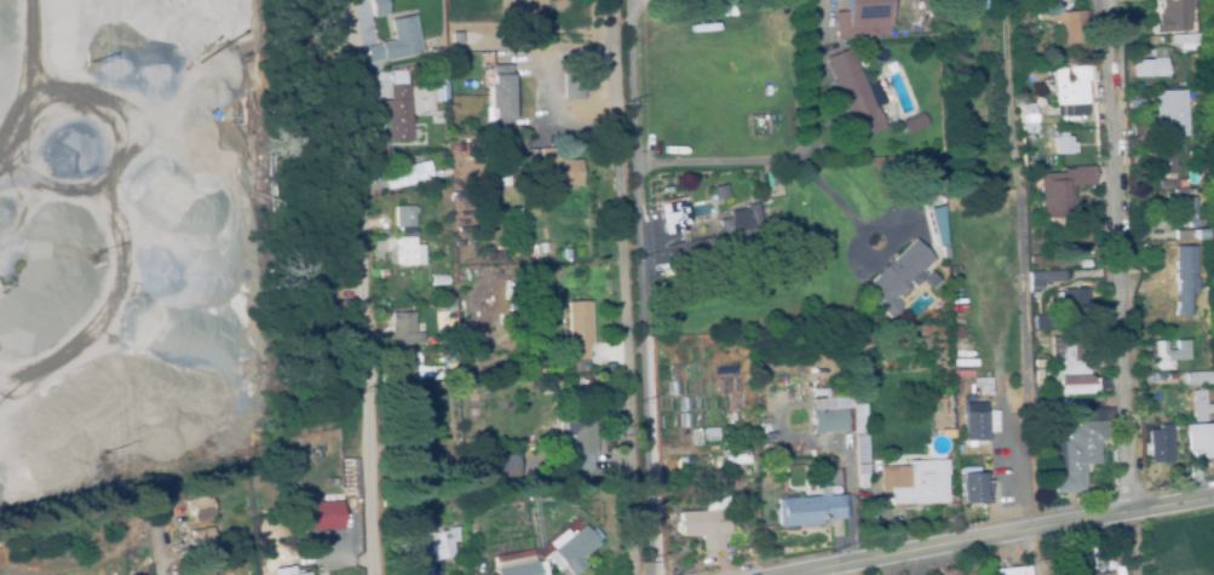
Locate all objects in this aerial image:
building: (1055, 0)
building: (120, 2)
building: (986, 5)
building: (379, 7)
building: (493, 8)
building: (1034, 8)
building: (1020, 10)
building: (1174, 16)
building: (861, 19)
building: (1071, 27)
building: (951, 29)
building: (1185, 40)
building: (396, 41)
building: (516, 45)
building: (863, 46)
building: (436, 52)
building: (1210, 52)
building: (1151, 65)
building: (968, 70)
building: (1037, 73)
building: (442, 82)
building: (1072, 86)
building: (1193, 90)
building: (573, 92)
building: (852, 96)
building: (500, 97)
building: (401, 105)
building: (454, 107)
building: (1030, 114)
building: (1169, 114)
building: (916, 123)
building: (1139, 127)
building: (1065, 143)
building: (1196, 144)
building: (1053, 156)
building: (1195, 157)
road: (798, 159)
building: (1053, 162)
building: (1162, 163)
building: (558, 169)
building: (408, 173)
building: (506, 178)
building: (1181, 184)
building: (922, 185)
building: (1168, 185)
building: (720, 189)
building: (1063, 189)
building: (1180, 191)
building: (678, 214)
building: (404, 215)
building: (1186, 219)
building: (940, 222)
building: (721, 241)
building: (407, 251)
building: (945, 251)
road: (1122, 255)
road: (1023, 265)
building: (511, 269)
building: (1183, 275)
building: (898, 276)
building: (438, 278)
building: (1040, 282)
road: (367, 287)
road: (634, 287)
building: (439, 291)
building: (1175, 291)
building: (1072, 301)
building: (445, 305)
building: (1040, 323)
building: (577, 329)
building: (404, 330)
building: (1069, 350)
building: (449, 353)
building: (1170, 355)
building: (536, 363)
building: (405, 364)
building: (965, 369)
building: (1037, 376)
building: (1158, 376)
building: (1173, 378)
building: (1197, 379)
building: (1076, 381)
building: (546, 389)
building: (982, 391)
building: (1061, 403)
building: (1078, 406)
building: (1198, 407)
building: (846, 421)
building: (416, 424)
building: (764, 426)
building: (976, 426)
building: (554, 430)
building: (713, 433)
building: (737, 433)
building: (698, 435)
building: (579, 439)
building: (1201, 439)
building: (1160, 445)
building: (771, 454)
building: (1077, 456)
building: (496, 462)
building: (735, 462)
building: (1193, 473)
building: (350, 479)
building: (333, 483)
building: (915, 483)
building: (973, 488)
building: (281, 490)
building: (520, 496)
building: (491, 500)
building: (482, 501)
building: (502, 501)
building: (470, 502)
building: (405, 504)
building: (200, 506)
building: (811, 510)
building: (323, 516)
building: (706, 522)
road: (1009, 536)
building: (425, 546)
building: (202, 551)
building: (574, 551)
building: (518, 565)
building: (1012, 571)
building: (303, 574)
building: (1109, 574)

